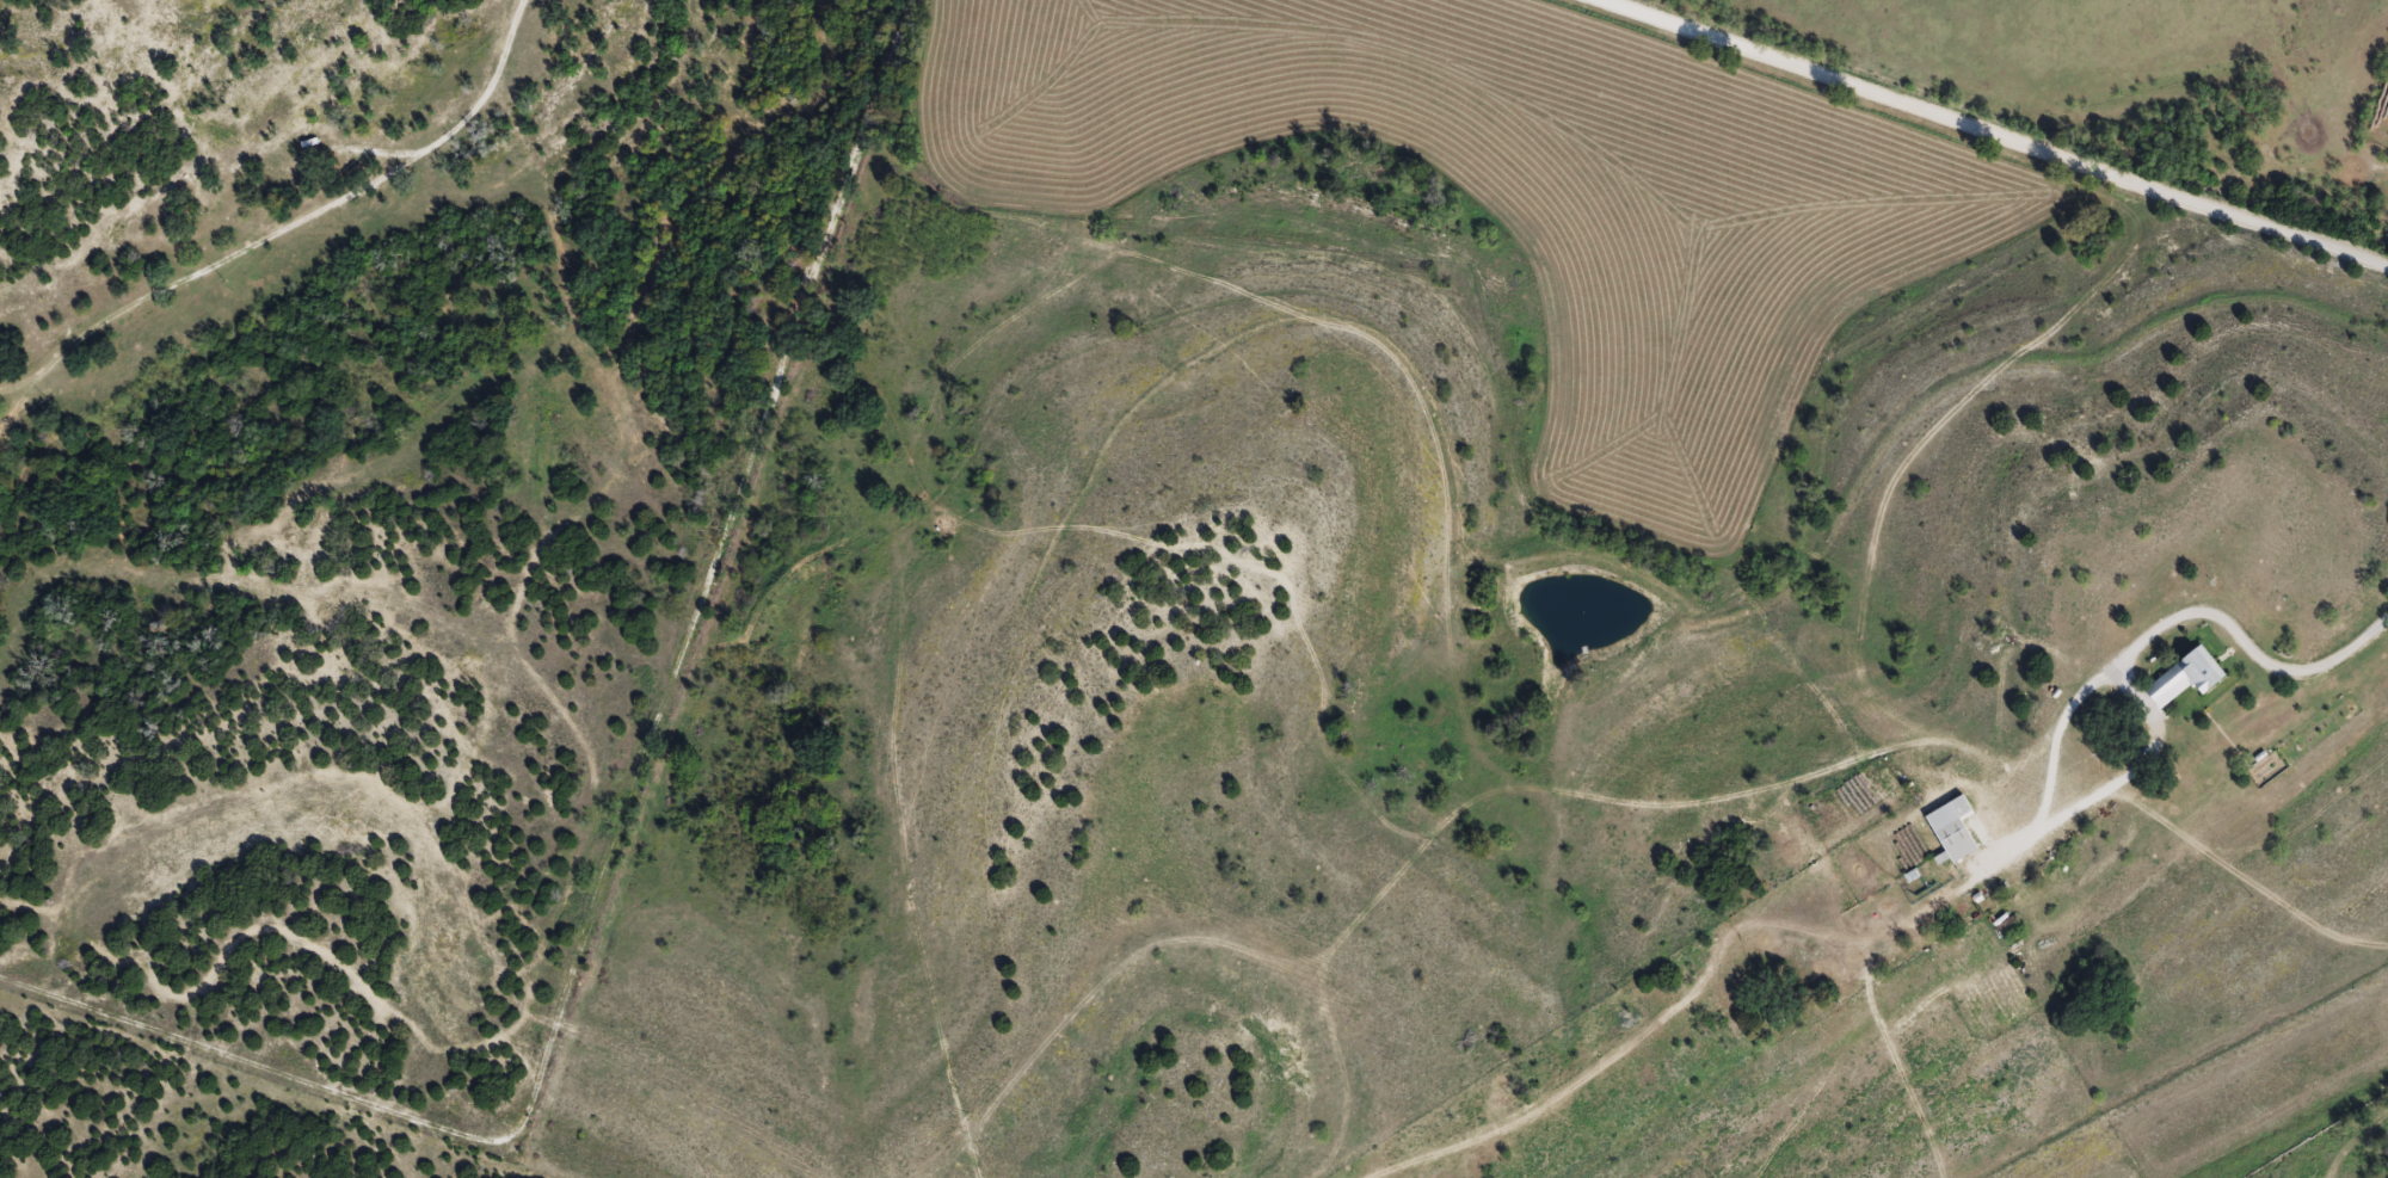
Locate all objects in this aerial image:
road: (1976, 137)
building: (2187, 681)
building: (1955, 832)
road: (2248, 1105)
road: (860, 1121)

